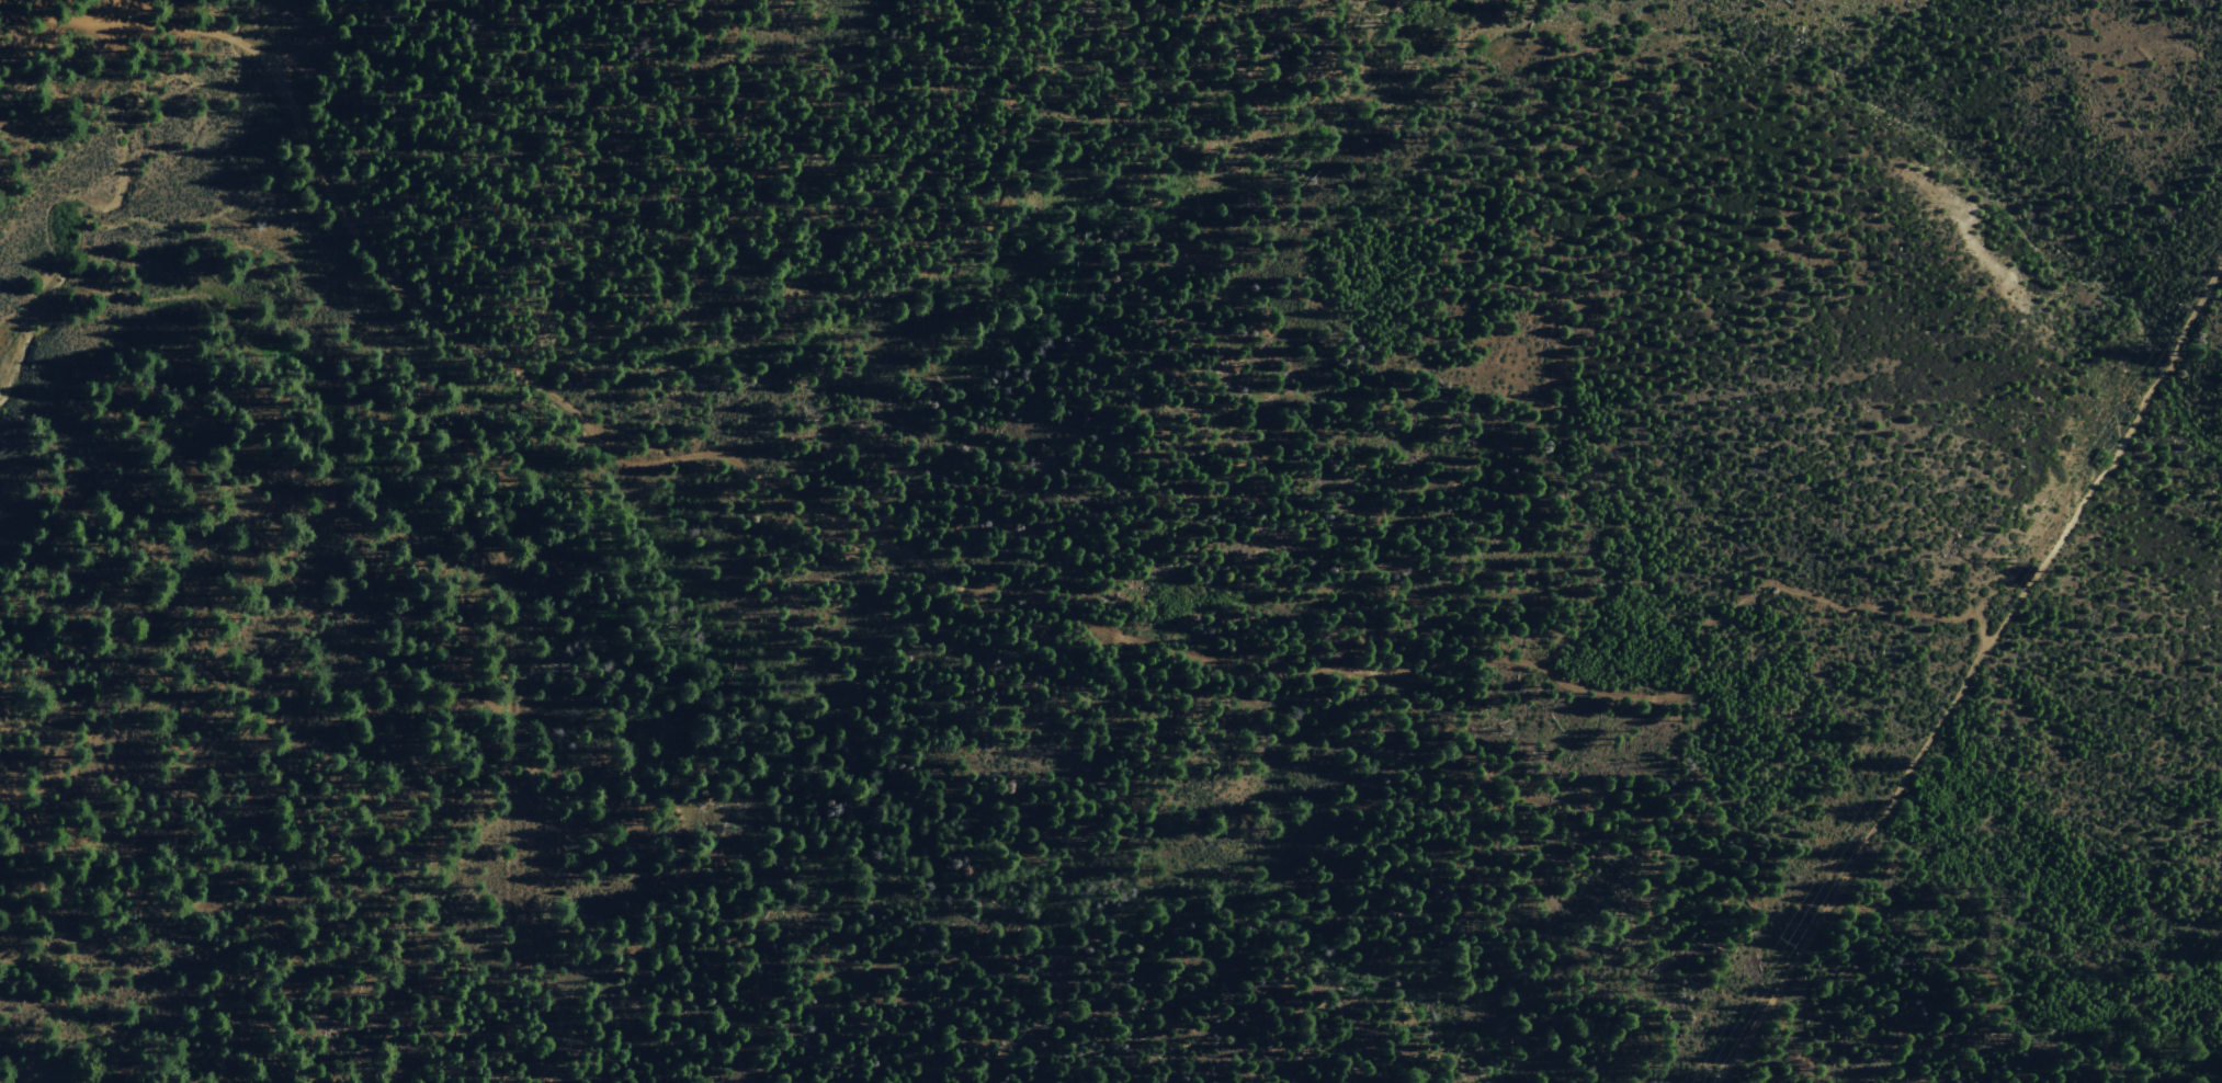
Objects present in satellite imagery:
power tower: (2013, 557)
road: (945, 579)
road: (1970, 679)
power tower: (1775, 938)

